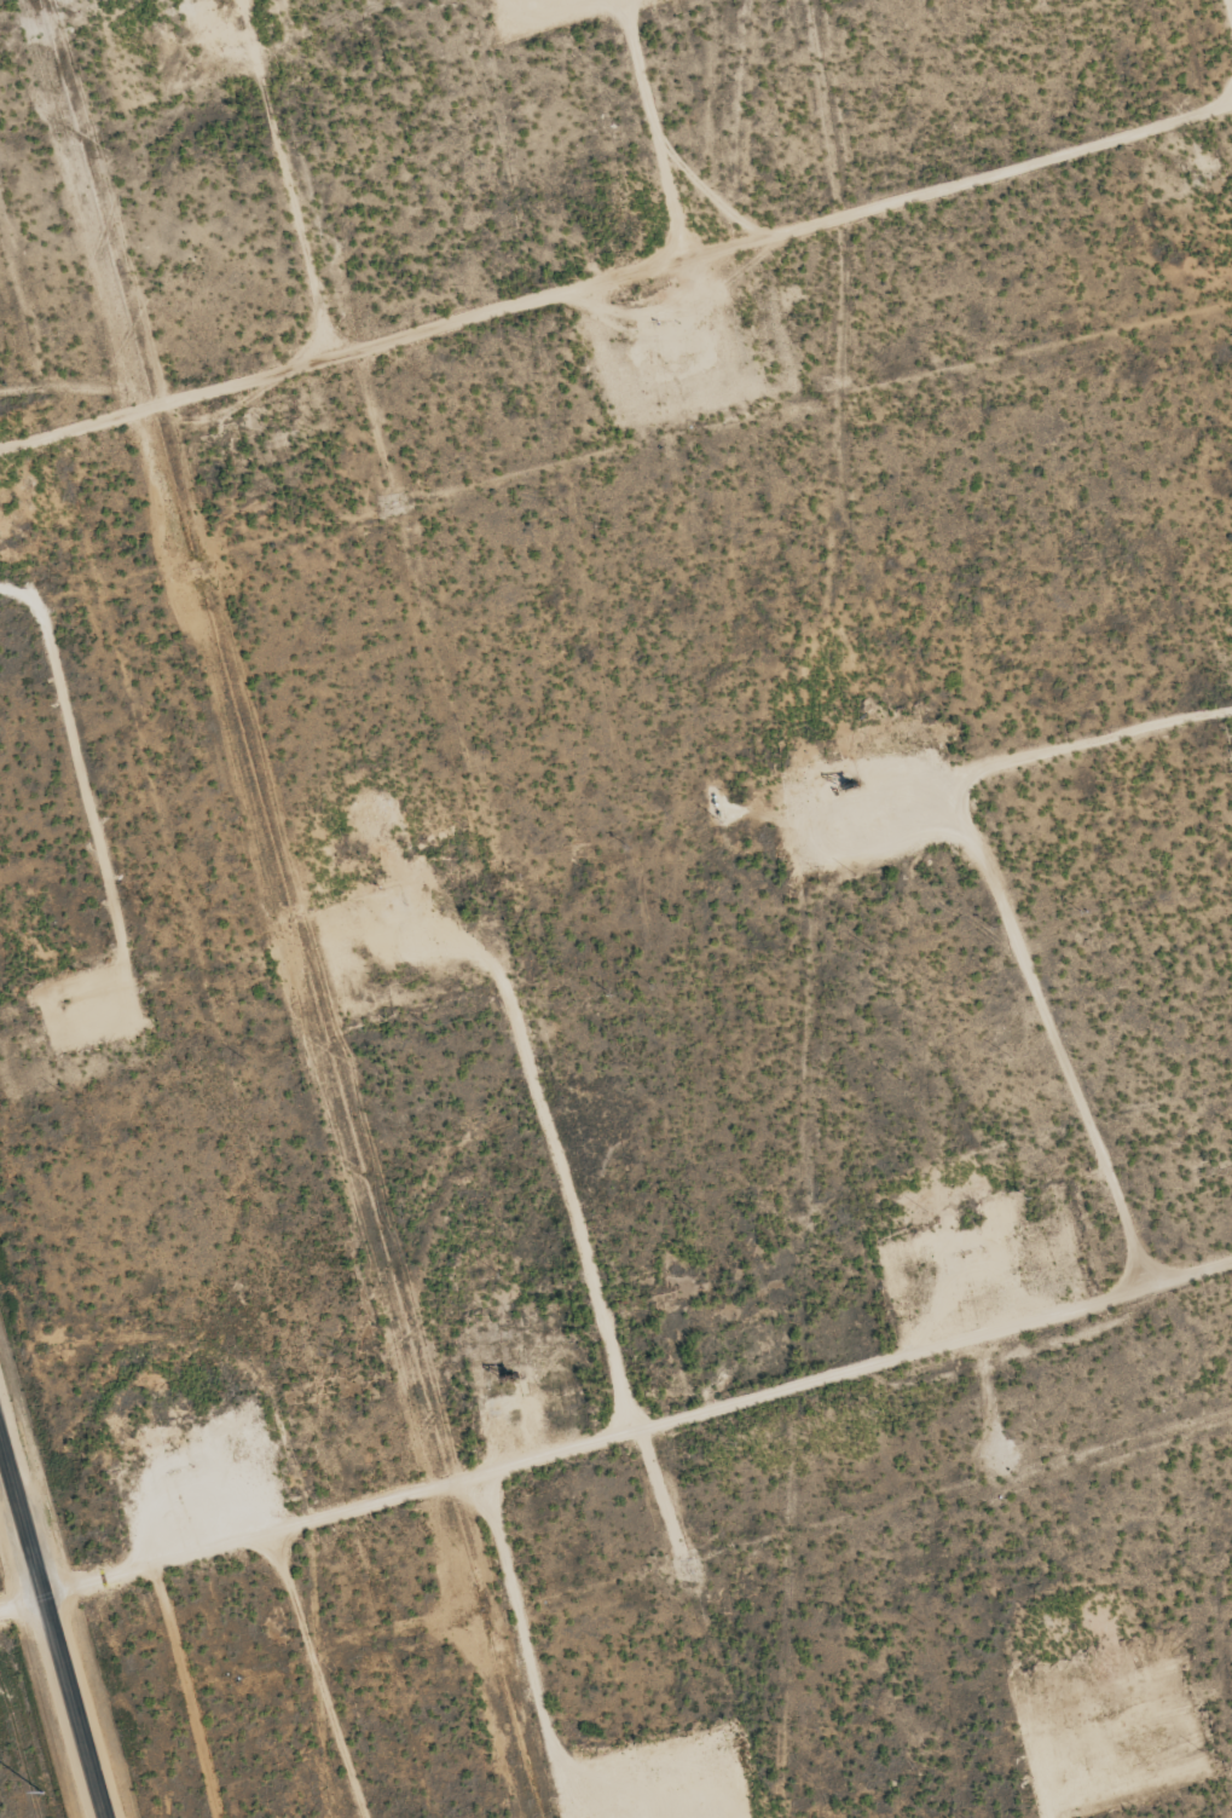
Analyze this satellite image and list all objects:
road: (613, 262)
road: (615, 1438)
road: (52, 1627)

